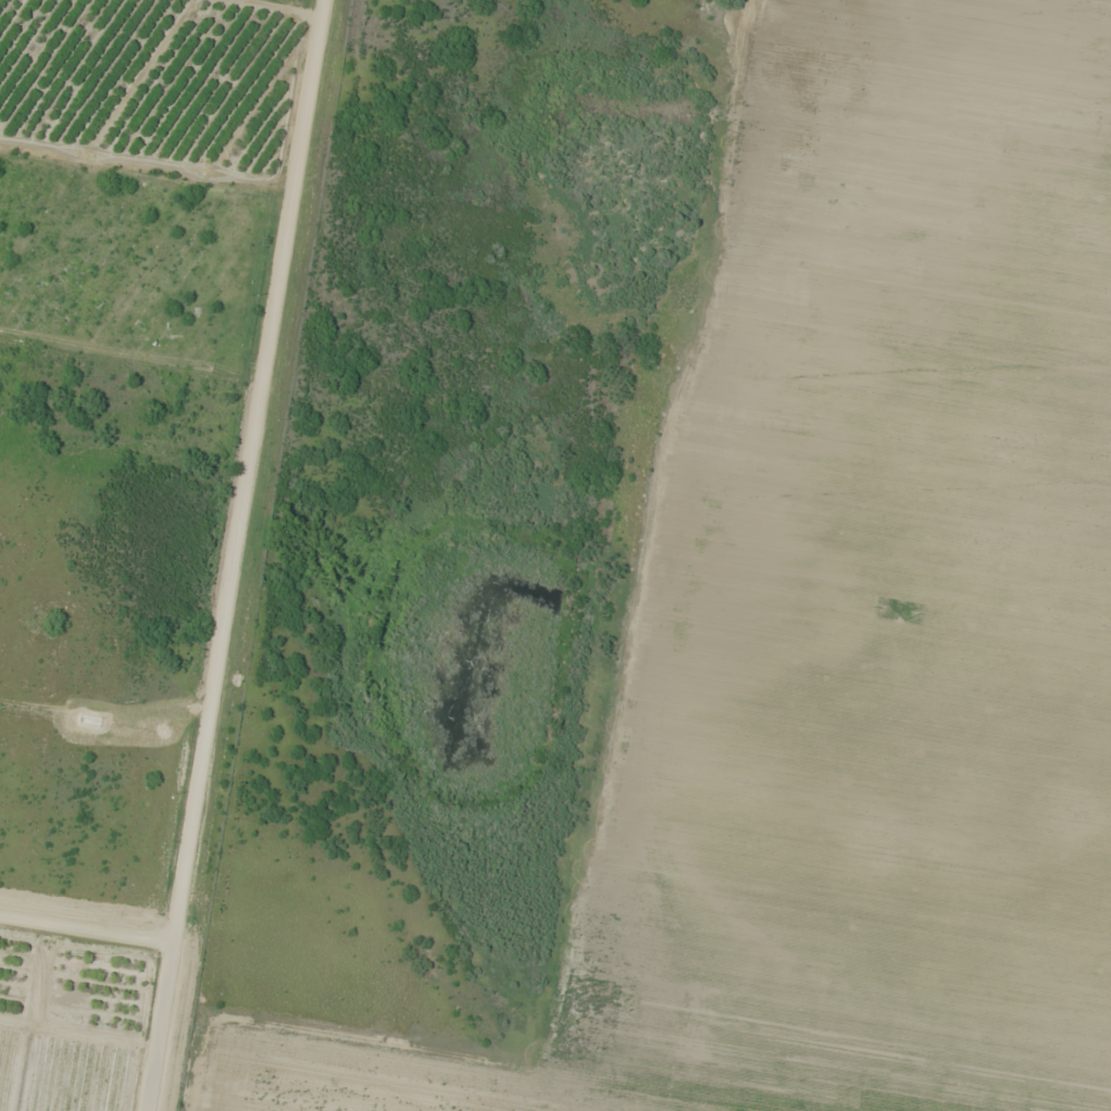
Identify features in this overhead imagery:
road: (229, 555)
road: (78, 935)

